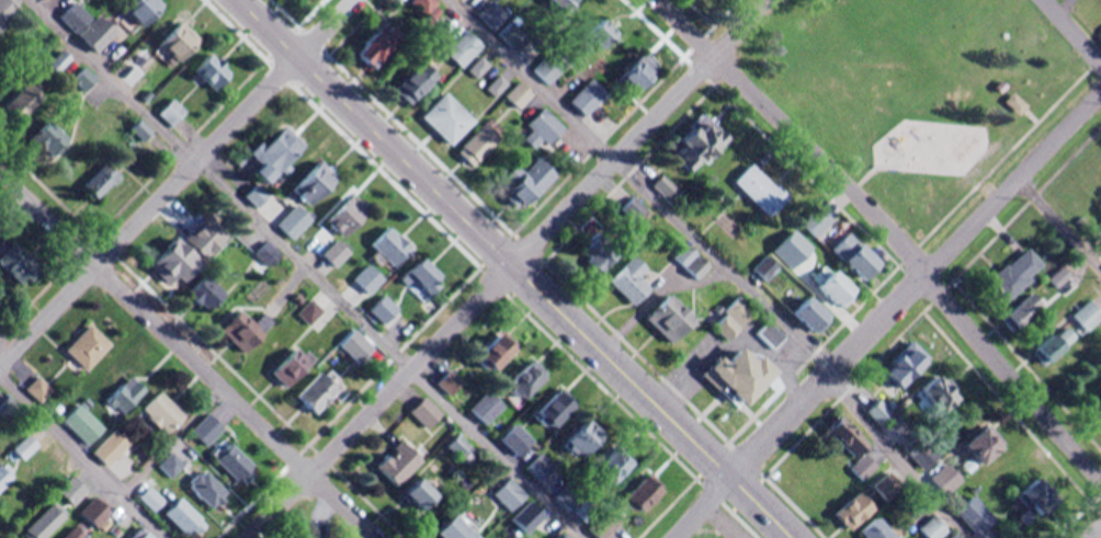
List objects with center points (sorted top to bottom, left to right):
road: (1072, 32)
park: (918, 94)
building: (1009, 102)
road: (1030, 114)
road: (887, 165)
road: (172, 179)
road: (618, 184)
road: (639, 185)
road: (1058, 225)
road: (888, 232)
road: (38, 241)
road: (478, 267)
road: (513, 267)
road: (549, 267)
road: (305, 268)
road: (478, 268)
road: (509, 271)
road: (866, 298)
road: (886, 314)
road: (915, 319)
road: (202, 342)
road: (189, 356)
road: (172, 443)
road: (81, 457)
road: (895, 459)
road: (1074, 514)
park: (726, 526)
road: (1097, 535)

